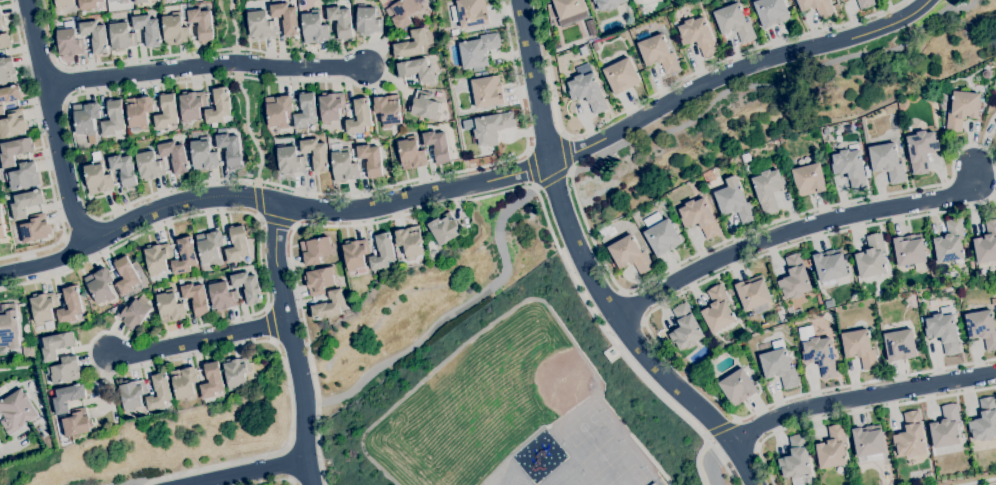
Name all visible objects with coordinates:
building: (636, 0)
building: (841, 0)
building: (120, 1)
building: (140, 1)
building: (63, 3)
building: (865, 3)
building: (88, 4)
building: (608, 4)
building: (817, 7)
road: (962, 7)
building: (570, 10)
building: (403, 12)
building: (771, 12)
building: (132, 13)
building: (469, 13)
building: (286, 18)
building: (340, 21)
building: (2, 22)
building: (368, 22)
building: (734, 23)
building: (201, 24)
building: (259, 25)
road: (235, 26)
building: (314, 27)
building: (591, 28)
building: (148, 30)
building: (175, 30)
building: (455, 33)
building: (95, 36)
building: (698, 36)
building: (122, 37)
building: (5, 41)
building: (69, 43)
building: (411, 45)
building: (595, 47)
building: (478, 51)
building: (583, 51)
building: (658, 54)
road: (236, 62)
building: (564, 63)
road: (204, 65)
building: (489, 68)
building: (7, 70)
building: (416, 70)
building: (619, 72)
building: (484, 74)
building: (985, 74)
road: (668, 87)
building: (587, 90)
building: (487, 92)
road: (79, 94)
building: (10, 95)
building: (192, 105)
building: (424, 106)
building: (218, 107)
building: (330, 107)
building: (1, 110)
building: (278, 110)
building: (387, 110)
building: (962, 110)
building: (139, 112)
building: (166, 112)
building: (305, 112)
building: (85, 117)
building: (359, 117)
building: (113, 118)
road: (54, 124)
building: (13, 126)
road: (248, 128)
building: (489, 128)
building: (856, 128)
building: (995, 131)
building: (825, 132)
building: (436, 145)
building: (230, 149)
building: (921, 150)
road: (565, 151)
building: (13, 152)
road: (44, 152)
building: (316, 153)
building: (411, 153)
building: (203, 155)
building: (175, 156)
building: (369, 159)
building: (289, 161)
building: (887, 162)
building: (343, 163)
building: (774, 164)
building: (150, 166)
building: (747, 167)
building: (850, 167)
road: (531, 168)
building: (124, 169)
building: (867, 172)
building: (22, 176)
building: (97, 176)
road: (552, 176)
building: (809, 180)
road: (473, 184)
road: (937, 186)
building: (768, 190)
road: (258, 198)
building: (735, 201)
building: (25, 203)
road: (415, 212)
building: (699, 217)
road: (278, 220)
building: (1, 221)
road: (798, 226)
building: (35, 229)
road: (82, 229)
building: (446, 229)
building: (660, 234)
building: (409, 242)
building: (950, 243)
building: (237, 244)
building: (986, 244)
building: (209, 247)
building: (909, 250)
building: (316, 251)
building: (382, 252)
building: (184, 255)
building: (356, 255)
building: (630, 255)
building: (871, 257)
building: (157, 258)
building: (249, 261)
road: (592, 263)
building: (831, 267)
building: (126, 277)
building: (794, 278)
building: (180, 281)
building: (198, 281)
building: (319, 281)
building: (100, 285)
building: (247, 287)
building: (753, 295)
building: (222, 297)
building: (196, 298)
building: (993, 302)
building: (70, 306)
building: (328, 306)
building: (170, 307)
building: (43, 308)
building: (995, 309)
building: (717, 310)
road: (455, 311)
building: (133, 315)
building: (829, 317)
road: (271, 322)
building: (9, 326)
building: (685, 328)
building: (982, 328)
building: (943, 330)
road: (201, 337)
road: (129, 339)
road: (293, 342)
building: (56, 345)
building: (900, 345)
building: (720, 346)
road: (616, 347)
building: (860, 348)
building: (613, 353)
building: (790, 353)
building: (820, 355)
road: (309, 356)
building: (679, 356)
building: (778, 365)
building: (66, 370)
building: (236, 373)
park: (529, 375)
building: (212, 381)
building: (184, 383)
building: (738, 388)
building: (2, 390)
building: (159, 392)
building: (132, 396)
building: (68, 397)
road: (862, 398)
building: (16, 412)
road: (854, 412)
building: (984, 421)
building: (77, 424)
road: (716, 426)
park: (581, 427)
building: (946, 428)
building: (910, 436)
building: (868, 444)
building: (832, 449)
road: (0, 453)
park: (601, 456)
road: (648, 458)
road: (716, 459)
road: (697, 462)
building: (796, 462)
road: (288, 463)
road: (243, 471)
park: (628, 474)
road: (276, 480)
park: (438, 480)
park: (517, 481)
road: (979, 481)
road: (140, 483)

